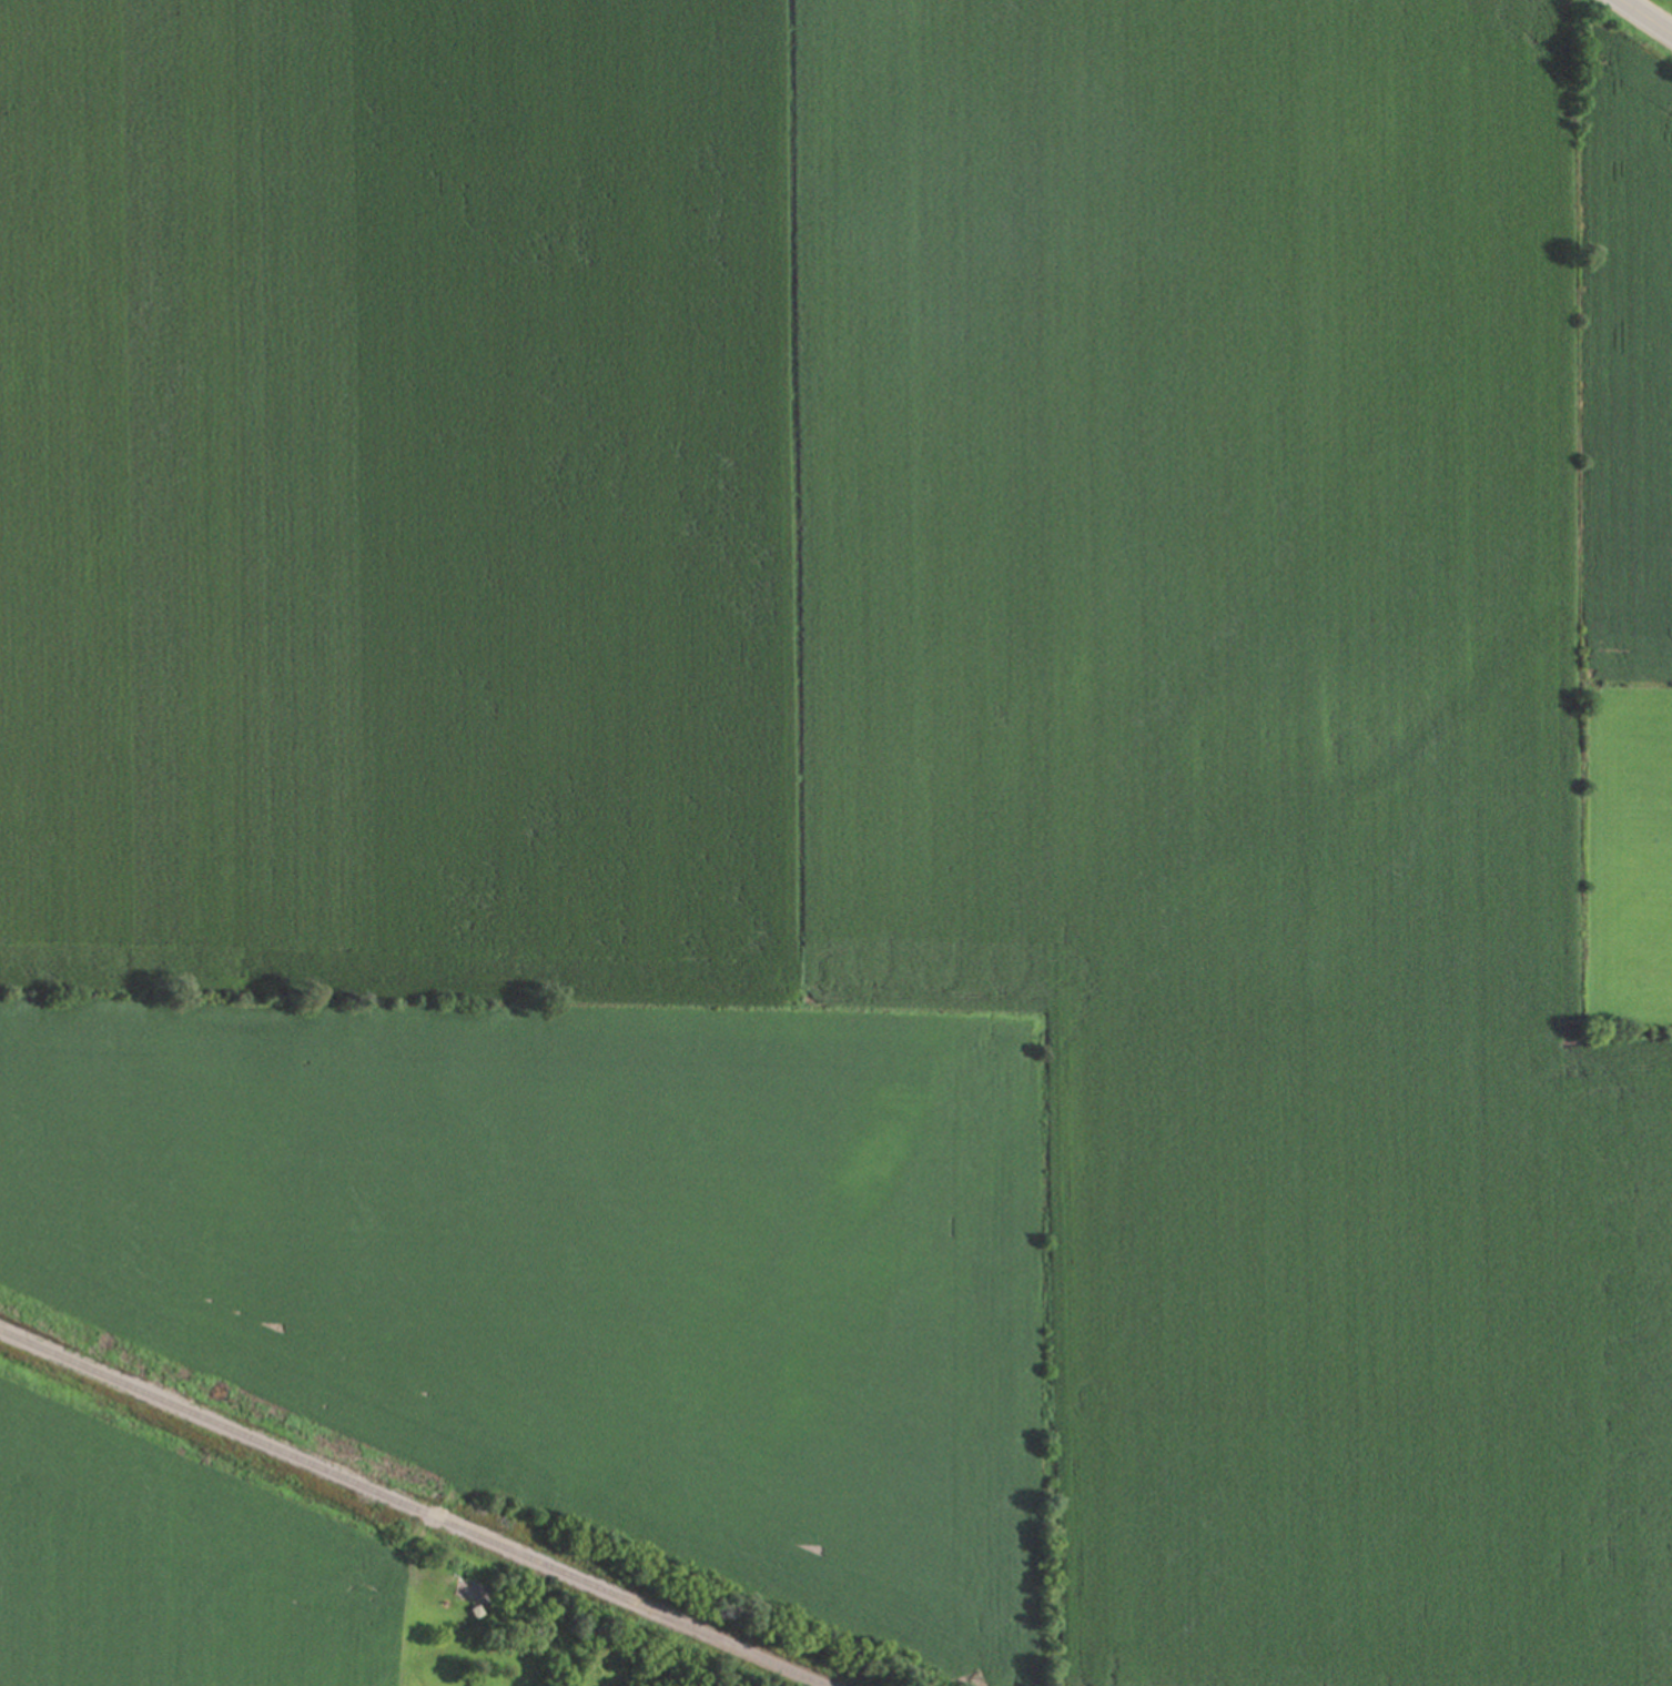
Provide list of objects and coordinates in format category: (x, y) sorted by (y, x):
road: (1638, 31)
railway: (415, 1507)

